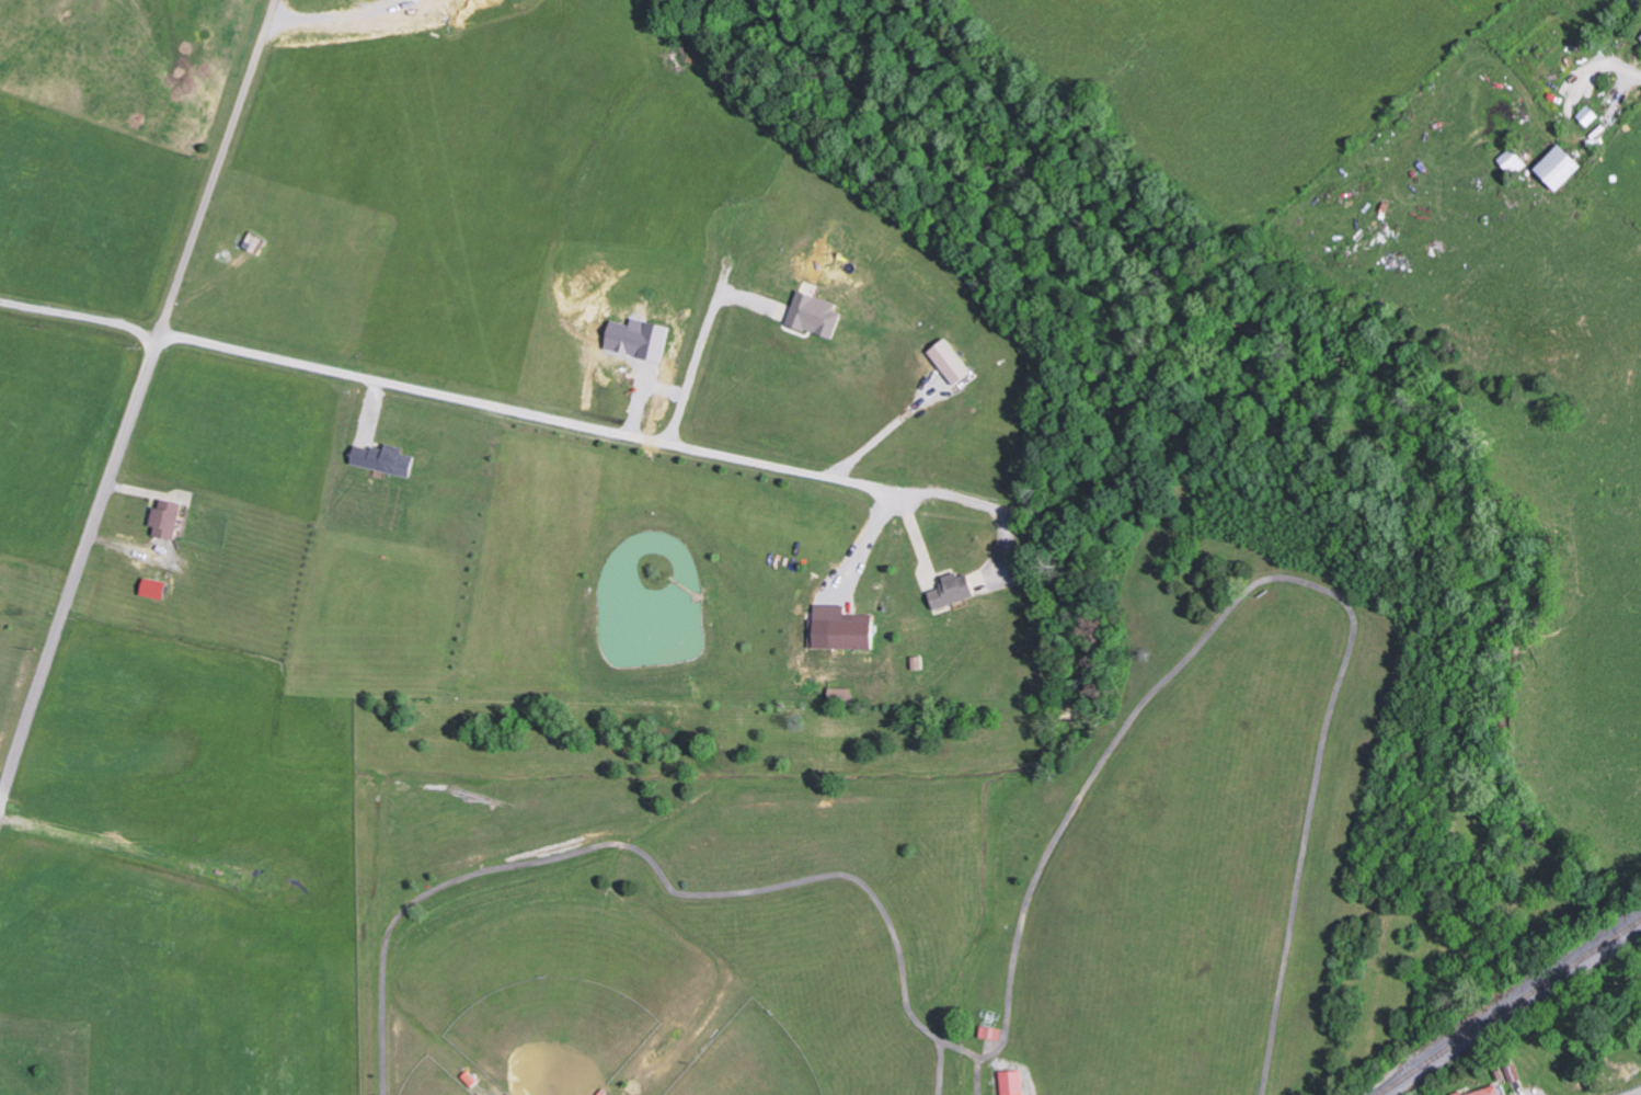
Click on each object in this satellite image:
building: (1590, 116)
road: (1453, 138)
building: (1560, 169)
building: (816, 317)
road: (1450, 362)
building: (952, 363)
road: (783, 447)
road: (59, 448)
building: (382, 460)
building: (167, 518)
road: (87, 541)
road: (1272, 577)
building: (153, 590)
building: (953, 592)
road: (34, 596)
road: (228, 596)
building: (840, 630)
building: (841, 696)
road: (652, 859)
park: (941, 897)
railway: (1511, 1010)
building: (990, 1033)
road: (941, 1068)
road: (977, 1075)
building: (1011, 1082)
park: (486, 1088)
park: (606, 1092)
building: (1489, 1092)
building: (1460, 1093)

